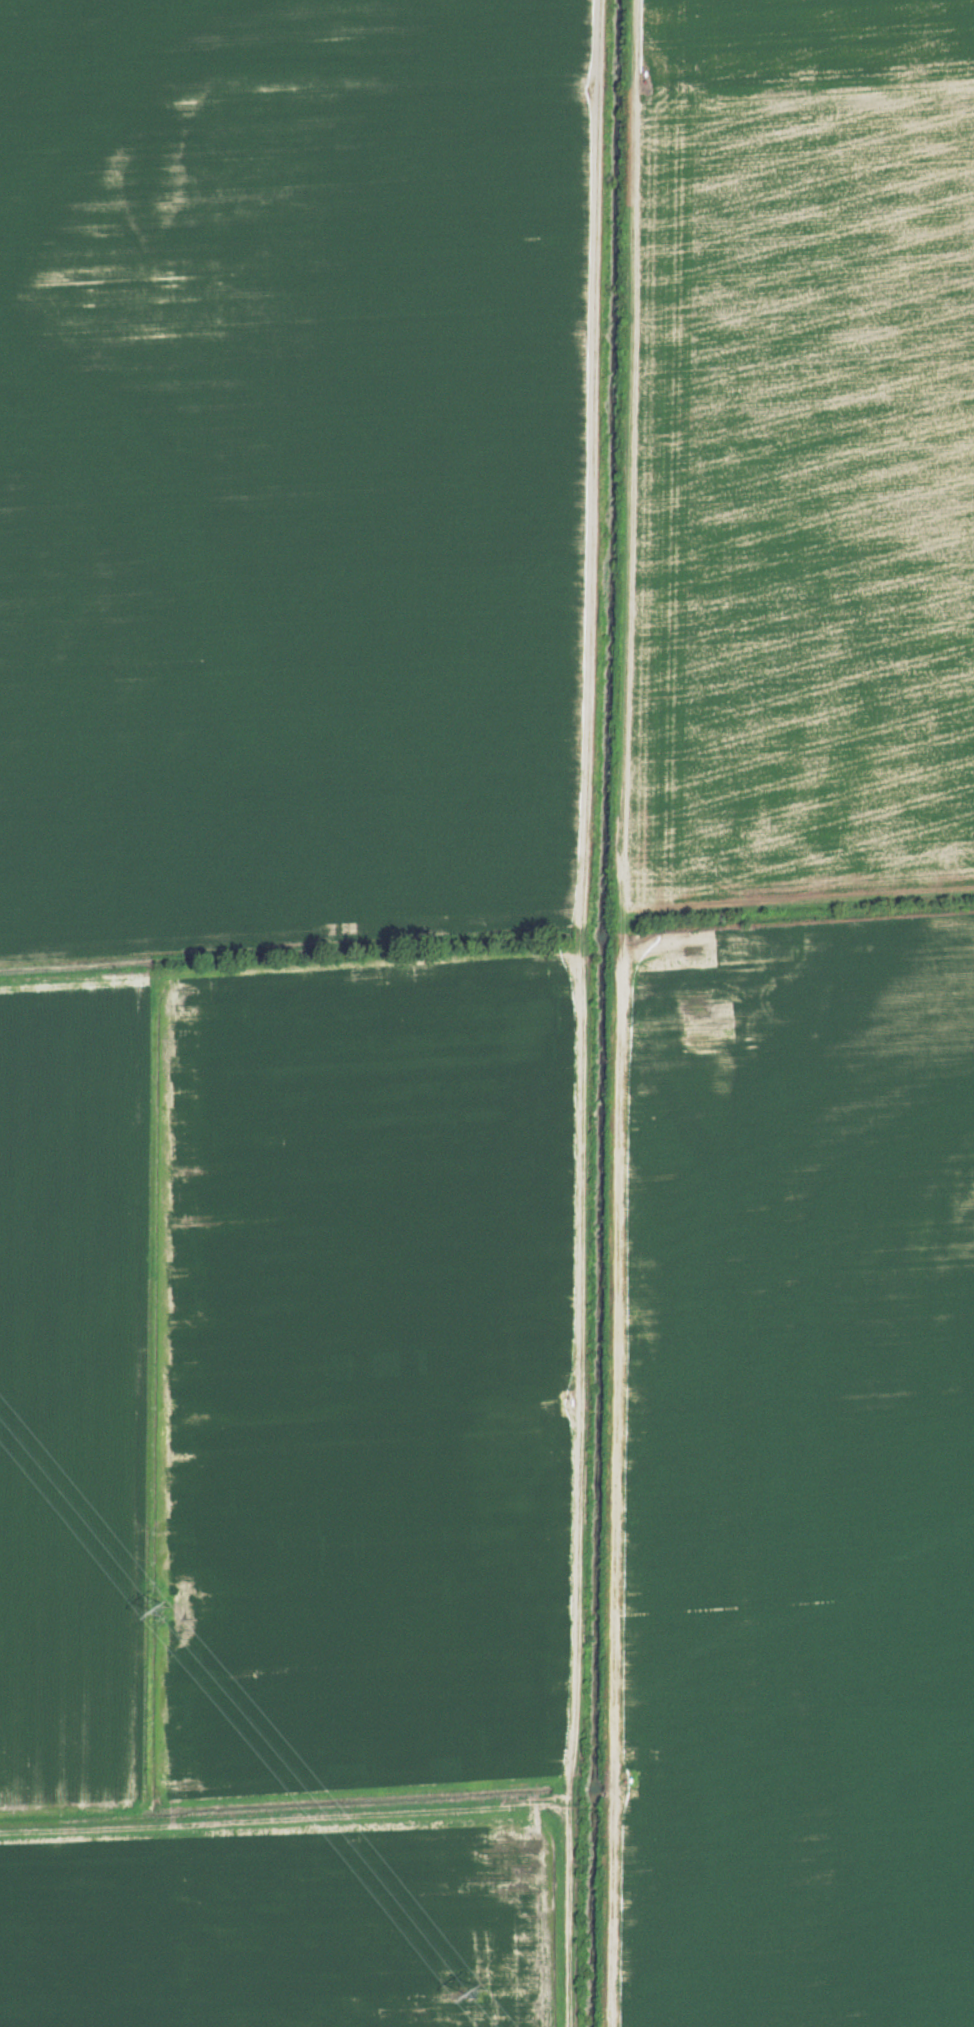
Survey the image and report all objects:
power tower: (165, 1609)
power tower: (480, 1994)

